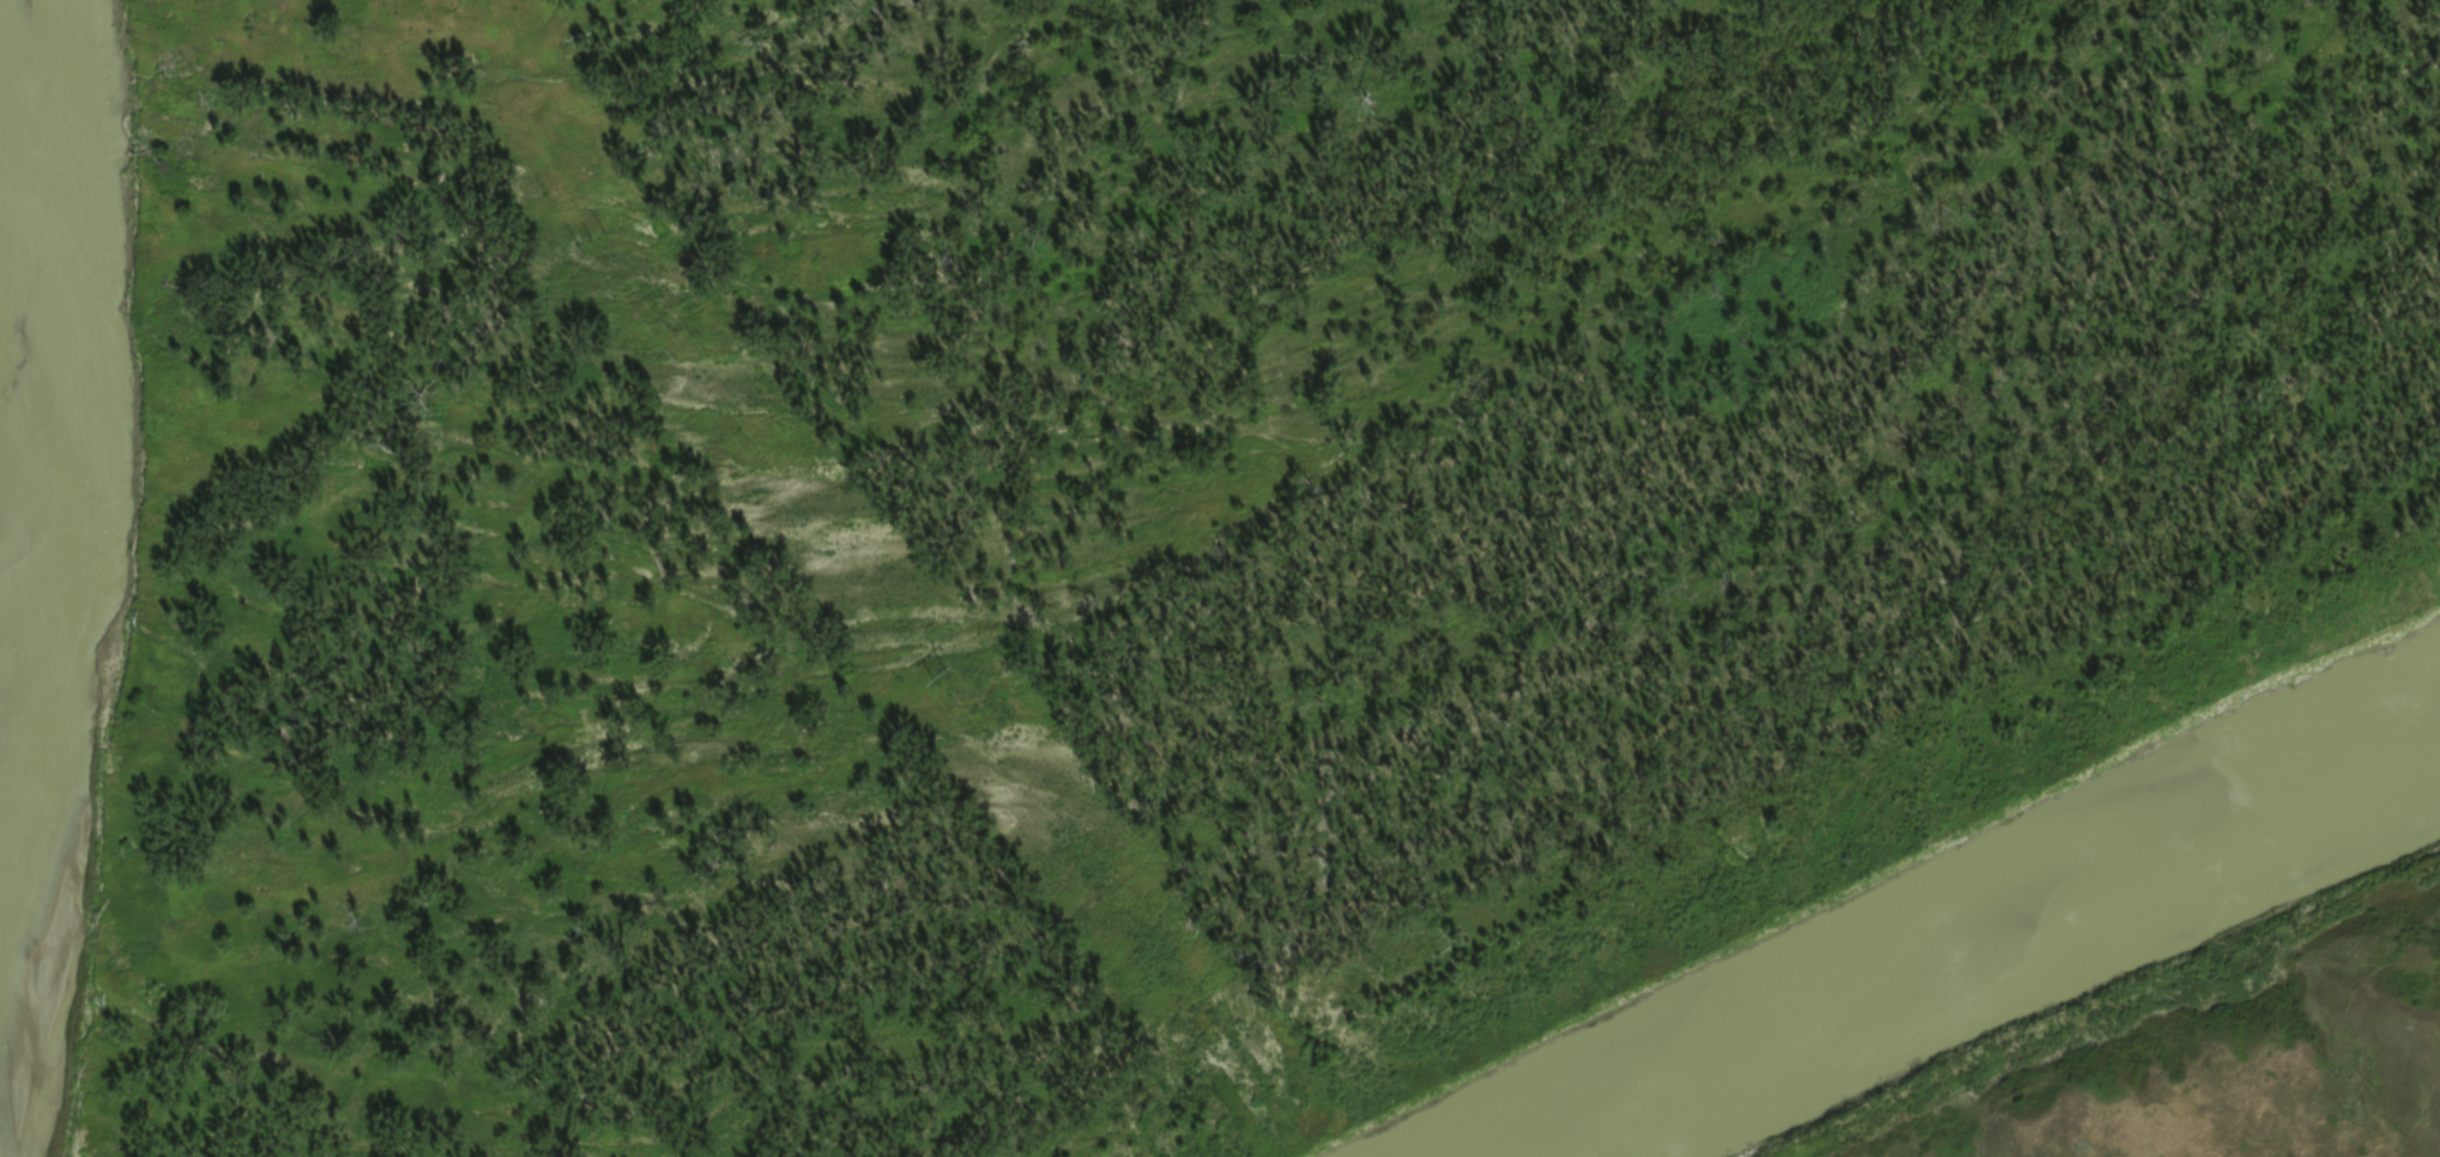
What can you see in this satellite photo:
power tower: (599, 241)
power tower: (947, 679)
river: (43, 715)
river: (1949, 974)

